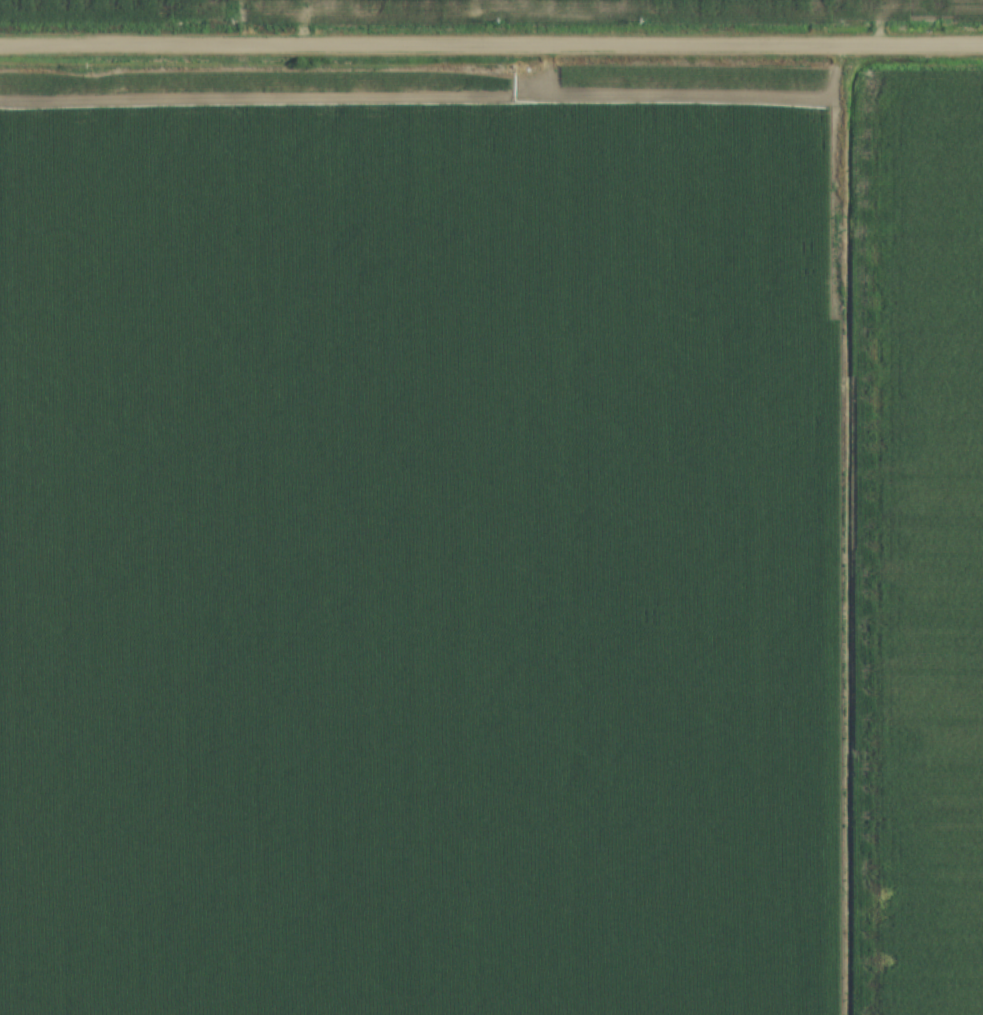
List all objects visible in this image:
crop: (971, 2)
crop: (646, 3)
road: (491, 46)
crop: (491, 541)

